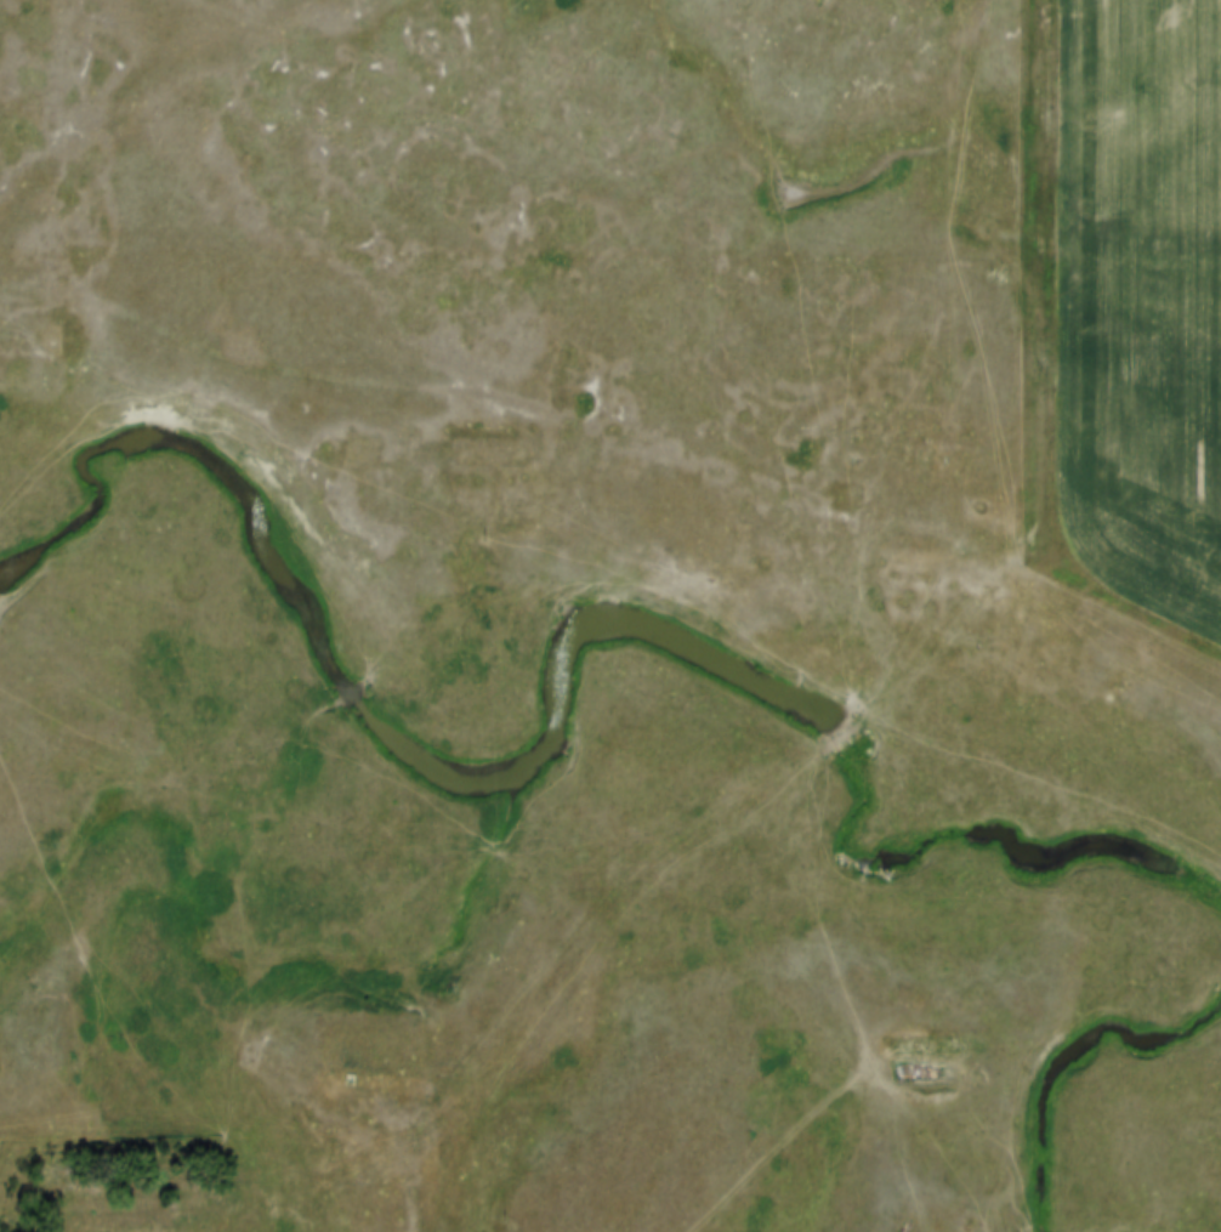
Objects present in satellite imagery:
road: (893, 691)

